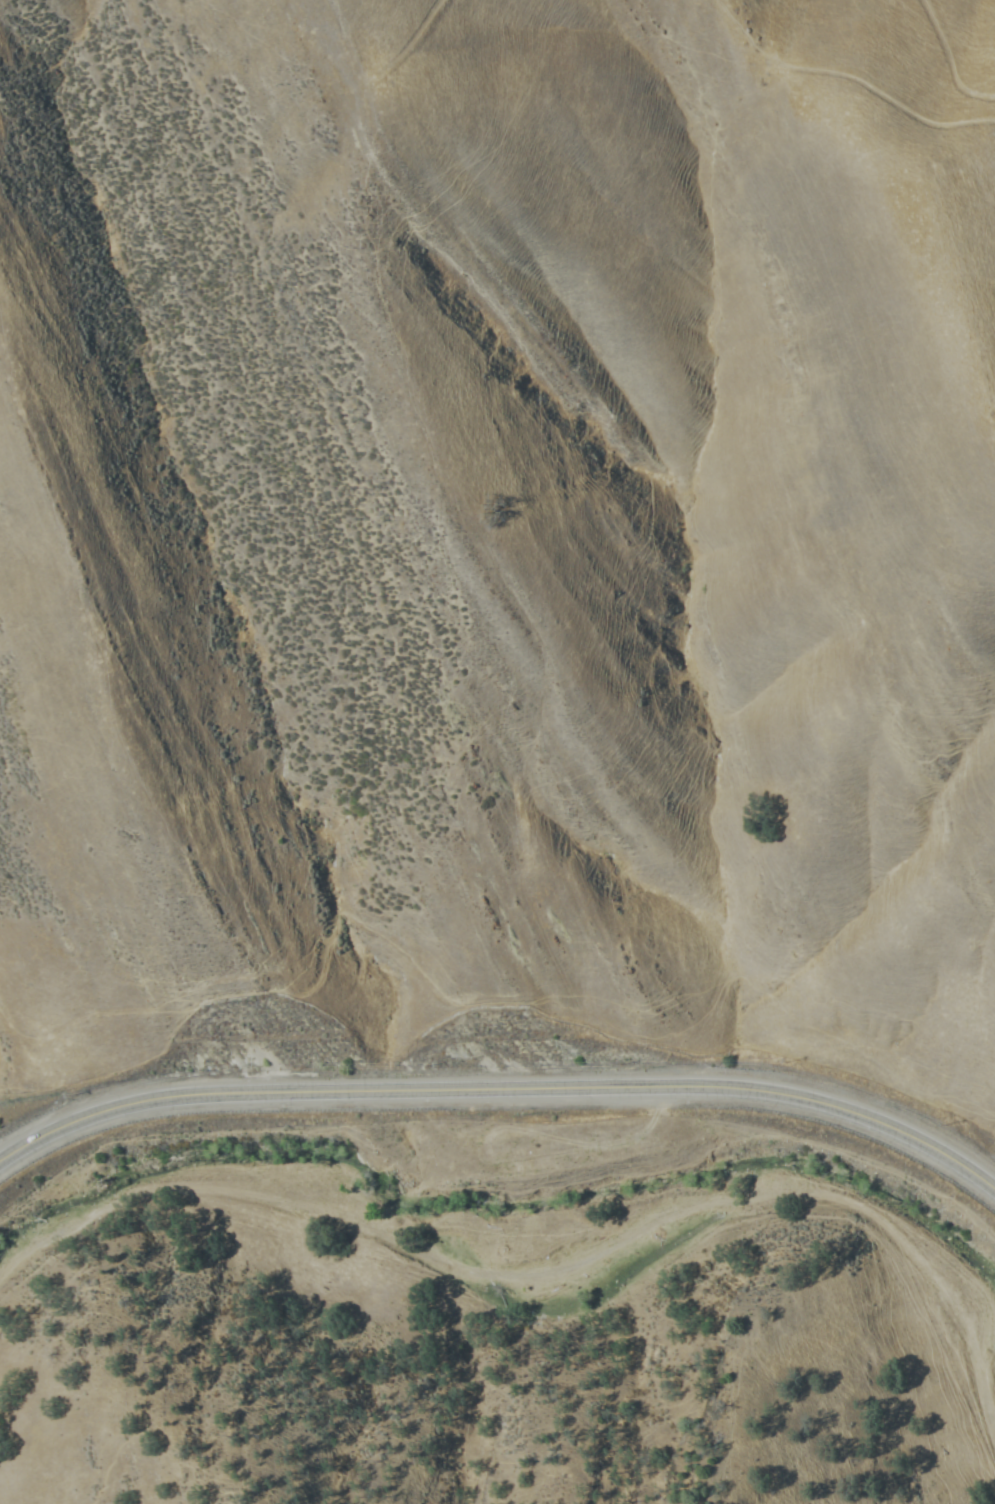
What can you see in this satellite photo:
road: (502, 1067)

